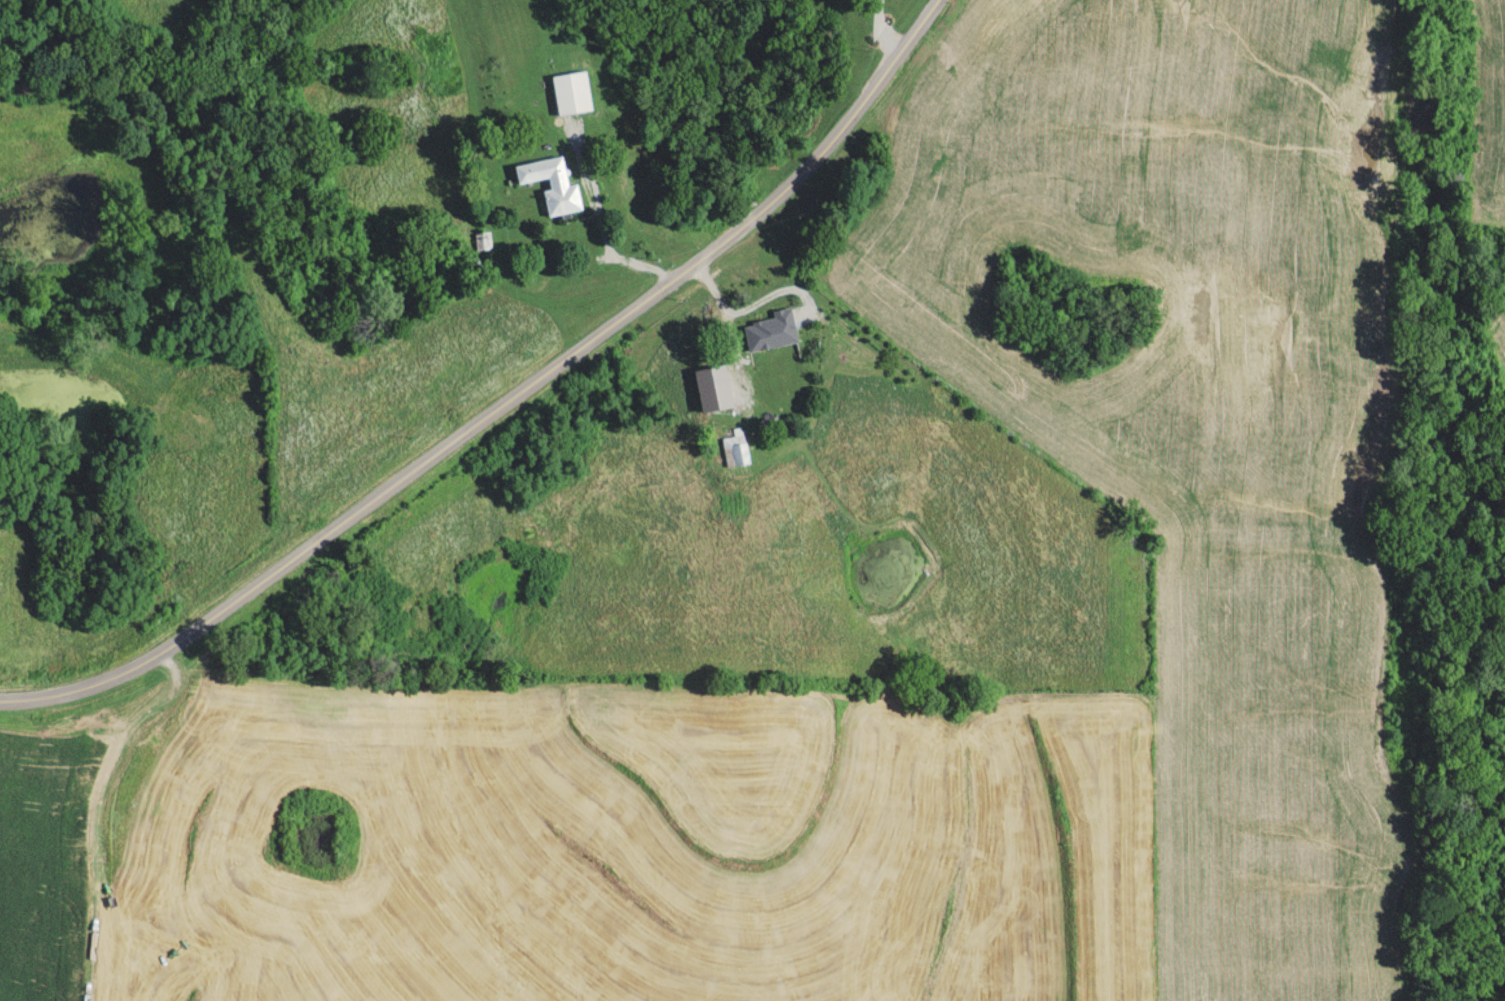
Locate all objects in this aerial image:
road: (920, 28)
road: (884, 29)
building: (556, 185)
road: (753, 303)
building: (770, 320)
road: (580, 342)
building: (778, 357)
building: (738, 384)
building: (739, 451)
road: (122, 664)

